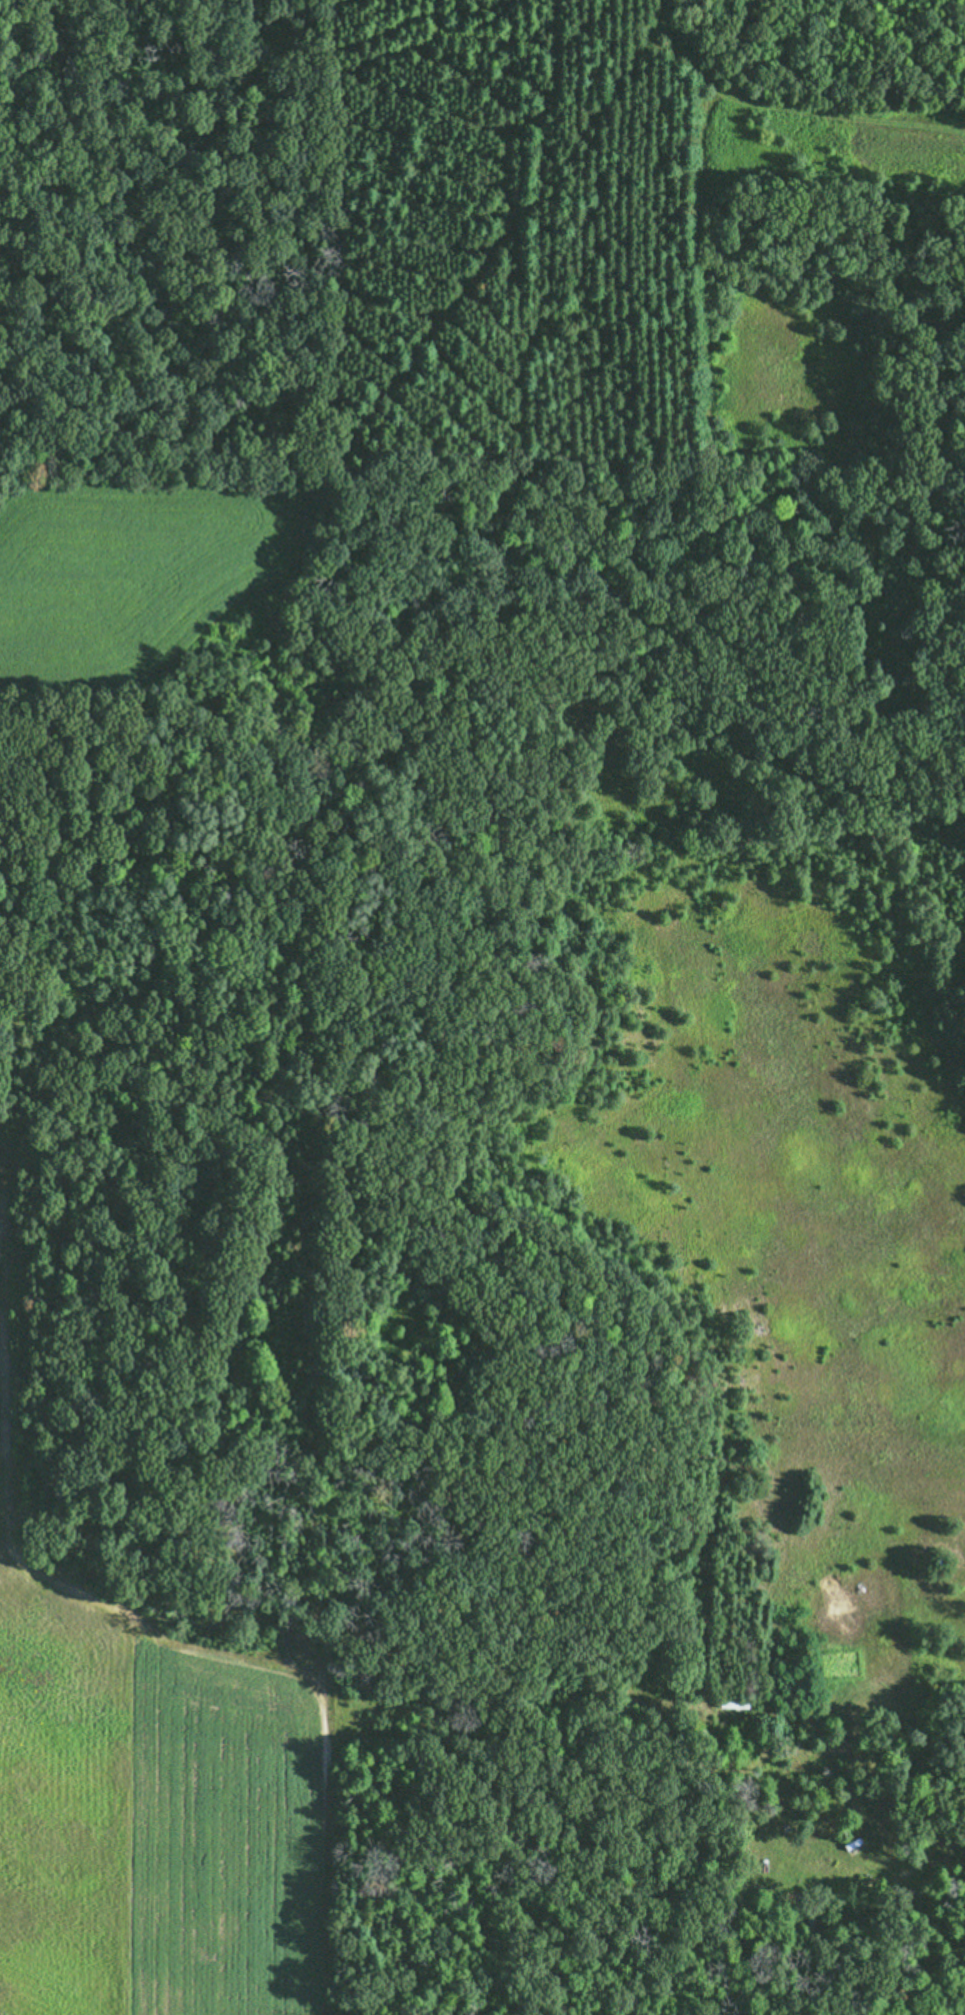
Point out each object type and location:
building: (733, 1705)
road: (912, 1893)

